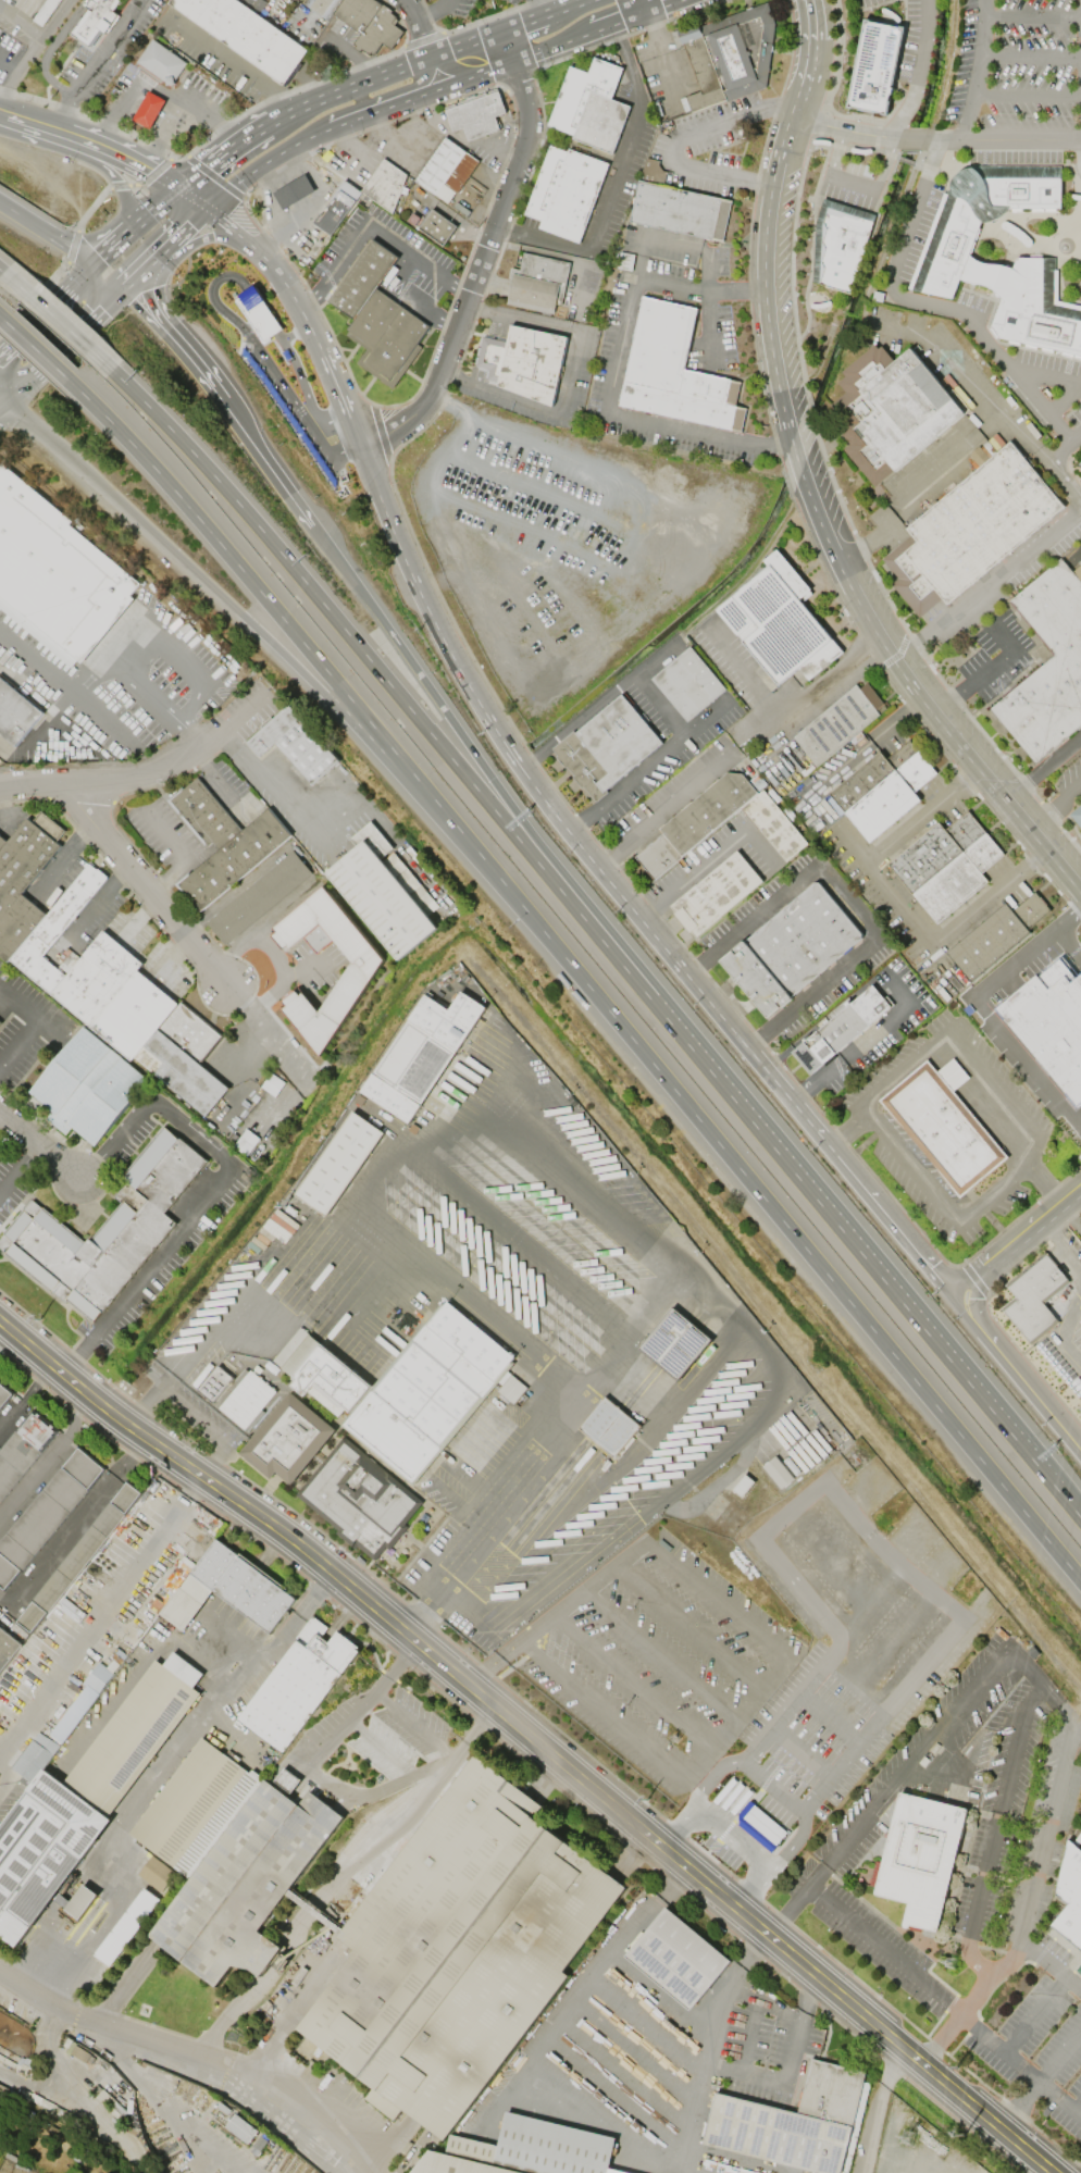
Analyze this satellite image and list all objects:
building: (322, 7)
road: (543, 8)
road: (569, 8)
road: (639, 9)
road: (669, 9)
road: (432, 11)
road: (1032, 14)
road: (815, 20)
building: (95, 21)
building: (370, 24)
road: (525, 24)
road: (618, 26)
road: (418, 27)
building: (248, 34)
road: (39, 36)
road: (51, 49)
building: (728, 54)
road: (1031, 55)
road: (657, 57)
road: (227, 58)
road: (96, 62)
building: (162, 62)
building: (871, 69)
road: (916, 70)
road: (978, 70)
road: (17, 71)
road: (452, 71)
road: (496, 71)
road: (385, 72)
road: (807, 76)
road: (418, 84)
road: (159, 91)
road: (1027, 94)
building: (589, 105)
building: (148, 110)
building: (476, 114)
road: (365, 116)
road: (45, 124)
road: (163, 132)
road: (935, 138)
road: (673, 139)
road: (224, 151)
road: (348, 159)
road: (137, 161)
road: (268, 161)
building: (446, 170)
road: (284, 175)
road: (854, 182)
road: (119, 183)
building: (385, 185)
road: (613, 185)
traffic signals: (182, 187)
building: (294, 191)
building: (566, 193)
road: (197, 196)
road: (269, 200)
road: (311, 204)
building: (675, 206)
traffic signals: (212, 207)
road: (151, 210)
building: (333, 214)
road: (373, 223)
road: (234, 224)
building: (438, 227)
road: (187, 228)
road: (479, 229)
road: (46, 232)
road: (208, 237)
building: (838, 244)
road: (705, 249)
road: (107, 250)
road: (484, 257)
building: (946, 260)
traffic signals: (90, 265)
road: (144, 271)
road: (95, 280)
road: (13, 281)
building: (538, 283)
road: (100, 286)
traffic signals: (125, 289)
road: (212, 294)
road: (113, 299)
road: (930, 302)
road: (45, 309)
building: (259, 314)
building: (376, 316)
road: (1, 318)
road: (58, 320)
road: (306, 321)
road: (296, 333)
road: (176, 345)
road: (34, 348)
road: (351, 352)
road: (55, 353)
building: (523, 362)
road: (613, 370)
building: (673, 371)
road: (414, 375)
road: (1067, 380)
road: (568, 381)
road: (961, 381)
road: (368, 385)
road: (4, 394)
traffic signals: (9, 397)
road: (4, 400)
building: (890, 413)
road: (352, 426)
road: (339, 432)
road: (380, 433)
road: (247, 437)
road: (1064, 444)
building: (1080, 462)
building: (1080, 464)
road: (1065, 477)
road: (912, 491)
road: (500, 492)
road: (793, 498)
road: (470, 523)
building: (971, 530)
road: (824, 536)
road: (540, 538)
road: (631, 542)
parking lot: (574, 546)
road: (598, 572)
building: (55, 573)
road: (990, 580)
road: (569, 598)
building: (778, 622)
road: (536, 623)
road: (635, 623)
road: (352, 640)
road: (181, 647)
road: (896, 655)
road: (654, 657)
road: (321, 665)
building: (1048, 666)
road: (985, 669)
road: (294, 671)
building: (689, 684)
road: (65, 692)
road: (495, 697)
road: (439, 704)
road: (660, 706)
building: (15, 713)
road: (786, 713)
road: (577, 721)
building: (837, 723)
parking lot: (662, 732)
building: (295, 744)
building: (607, 747)
road: (859, 755)
road: (1042, 765)
road: (649, 767)
road: (146, 771)
road: (561, 778)
road: (572, 778)
road: (1, 783)
building: (882, 789)
parking lot: (676, 791)
road: (540, 796)
road: (1054, 802)
road: (662, 809)
road: (290, 810)
building: (1076, 816)
building: (720, 823)
building: (223, 843)
road: (179, 850)
road: (61, 858)
road: (705, 860)
building: (946, 865)
building: (385, 892)
building: (715, 894)
building: (259, 897)
road: (848, 899)
road: (899, 903)
road: (254, 930)
building: (996, 935)
road: (1068, 943)
building: (790, 949)
road: (201, 952)
building: (101, 974)
building: (358, 977)
road: (285, 982)
road: (980, 1007)
building: (0, 1022)
building: (1051, 1023)
building: (0, 1025)
road: (35, 1028)
building: (840, 1030)
road: (958, 1038)
road: (869, 1040)
building: (421, 1054)
road: (794, 1068)
building: (88, 1086)
road: (1, 1109)
road: (1078, 1121)
road: (808, 1122)
building: (944, 1125)
road: (845, 1130)
road: (39, 1142)
road: (866, 1142)
building: (338, 1164)
road: (12, 1174)
road: (1046, 1182)
road: (209, 1193)
road: (943, 1208)
road: (1072, 1214)
road: (829, 1215)
road: (350, 1217)
road: (889, 1219)
road: (991, 1220)
road: (1032, 1228)
building: (105, 1231)
road: (524, 1244)
road: (1059, 1247)
road: (823, 1270)
road: (967, 1280)
road: (981, 1283)
road: (252, 1291)
traffic signals: (952, 1295)
building: (1035, 1297)
traffic signals: (977, 1300)
road: (977, 1313)
road: (960, 1315)
power tower: (39, 1320)
road: (1066, 1326)
building: (674, 1343)
building: (320, 1374)
road: (167, 1380)
road: (1031, 1387)
building: (428, 1392)
building: (4, 1394)
road: (26, 1396)
building: (248, 1401)
road: (145, 1404)
road: (189, 1408)
building: (608, 1427)
building: (288, 1440)
building: (23, 1449)
road: (162, 1449)
road: (220, 1455)
road: (49, 1461)
road: (194, 1483)
building: (360, 1499)
road: (846, 1501)
road: (1068, 1503)
building: (46, 1513)
road: (74, 1525)
power tower: (350, 1552)
building: (78, 1557)
building: (229, 1589)
road: (870, 1601)
road: (689, 1625)
road: (893, 1638)
road: (82, 1642)
road: (773, 1642)
building: (8, 1648)
road: (658, 1655)
road: (631, 1678)
building: (7, 1684)
building: (298, 1684)
road: (853, 1684)
road: (1058, 1701)
building: (80, 1704)
road: (494, 1706)
road: (351, 1715)
road: (828, 1715)
road: (414, 1728)
building: (136, 1733)
road: (800, 1750)
building: (36, 1756)
road: (904, 1768)
road: (160, 1773)
road: (711, 1773)
building: (288, 1779)
road: (773, 1784)
power tower: (647, 1801)
building: (194, 1806)
road: (674, 1824)
road: (995, 1828)
road: (732, 1834)
road: (795, 1839)
building: (41, 1851)
building: (921, 1858)
building: (157, 1874)
road: (696, 1877)
building: (246, 1884)
road: (755, 1887)
building: (1070, 1896)
building: (77, 1901)
road: (1029, 1902)
building: (126, 1926)
road: (884, 1948)
building: (459, 1950)
building: (679, 1958)
power tower: (950, 1963)
road: (1049, 1964)
building: (1078, 1971)
road: (660, 1988)
road: (762, 1999)
road: (1034, 2014)
road: (647, 2020)
road: (111, 2026)
road: (797, 2026)
road: (748, 2033)
road: (543, 2036)
road: (894, 2040)
road: (707, 2045)
road: (633, 2047)
road: (1059, 2054)
road: (1018, 2064)
power tower: (958, 2069)
road: (745, 2070)
road: (624, 2073)
road: (1077, 2103)
road: (159, 2104)
road: (880, 2107)
road: (291, 2119)
road: (649, 2122)
building: (792, 2122)
building: (241, 2128)
power tower: (907, 2137)
power tower: (962, 2137)
building: (524, 2150)

